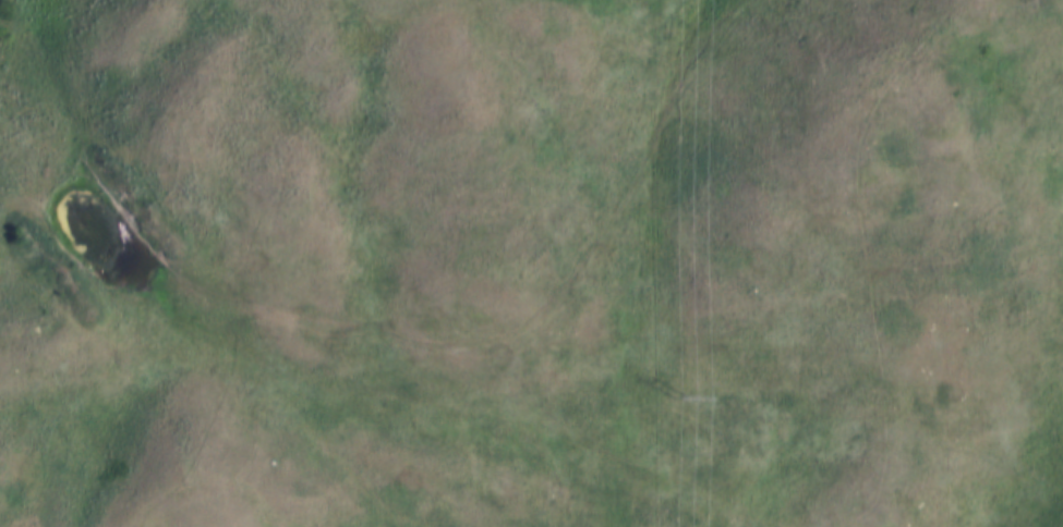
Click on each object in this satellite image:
power tower: (677, 401)

